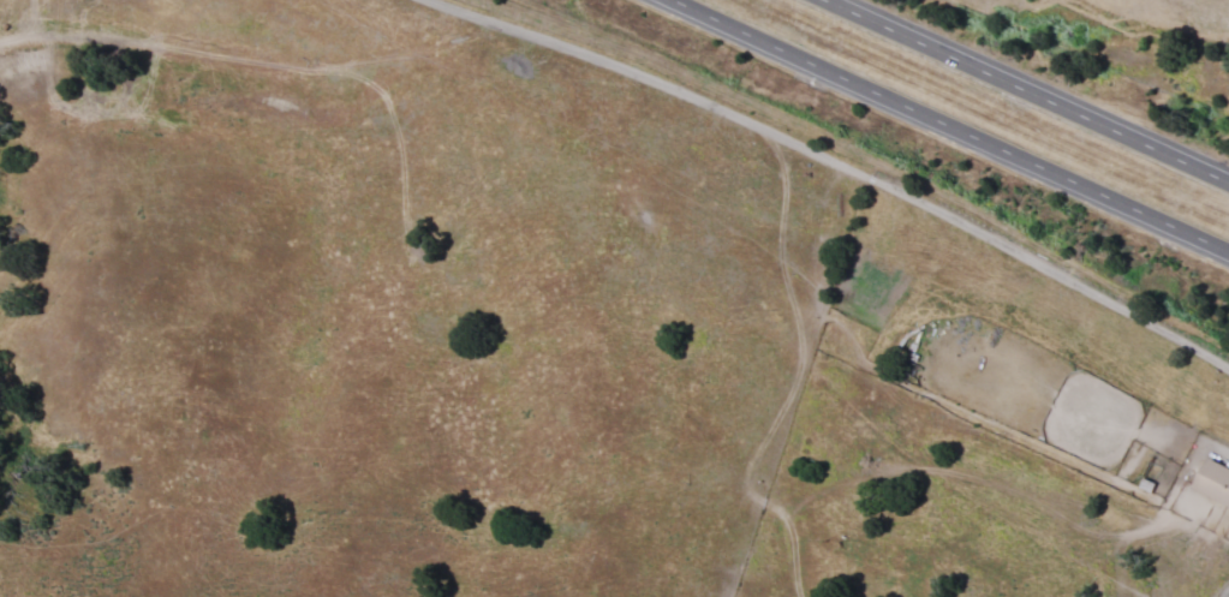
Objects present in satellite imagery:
road: (1037, 82)
road: (944, 121)
building: (1211, 480)

